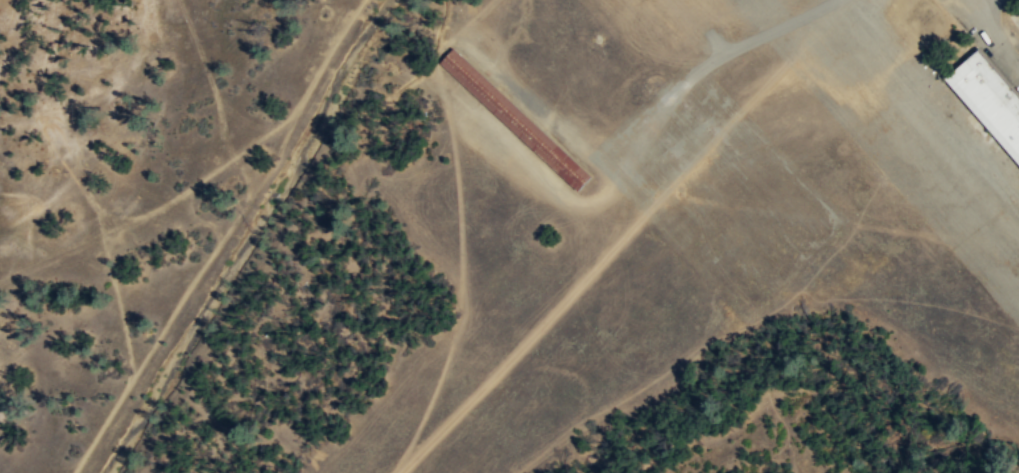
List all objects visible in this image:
road: (983, 7)
building: (987, 102)
building: (516, 119)
airport runway: (885, 153)
airport: (716, 181)
road: (520, 346)

